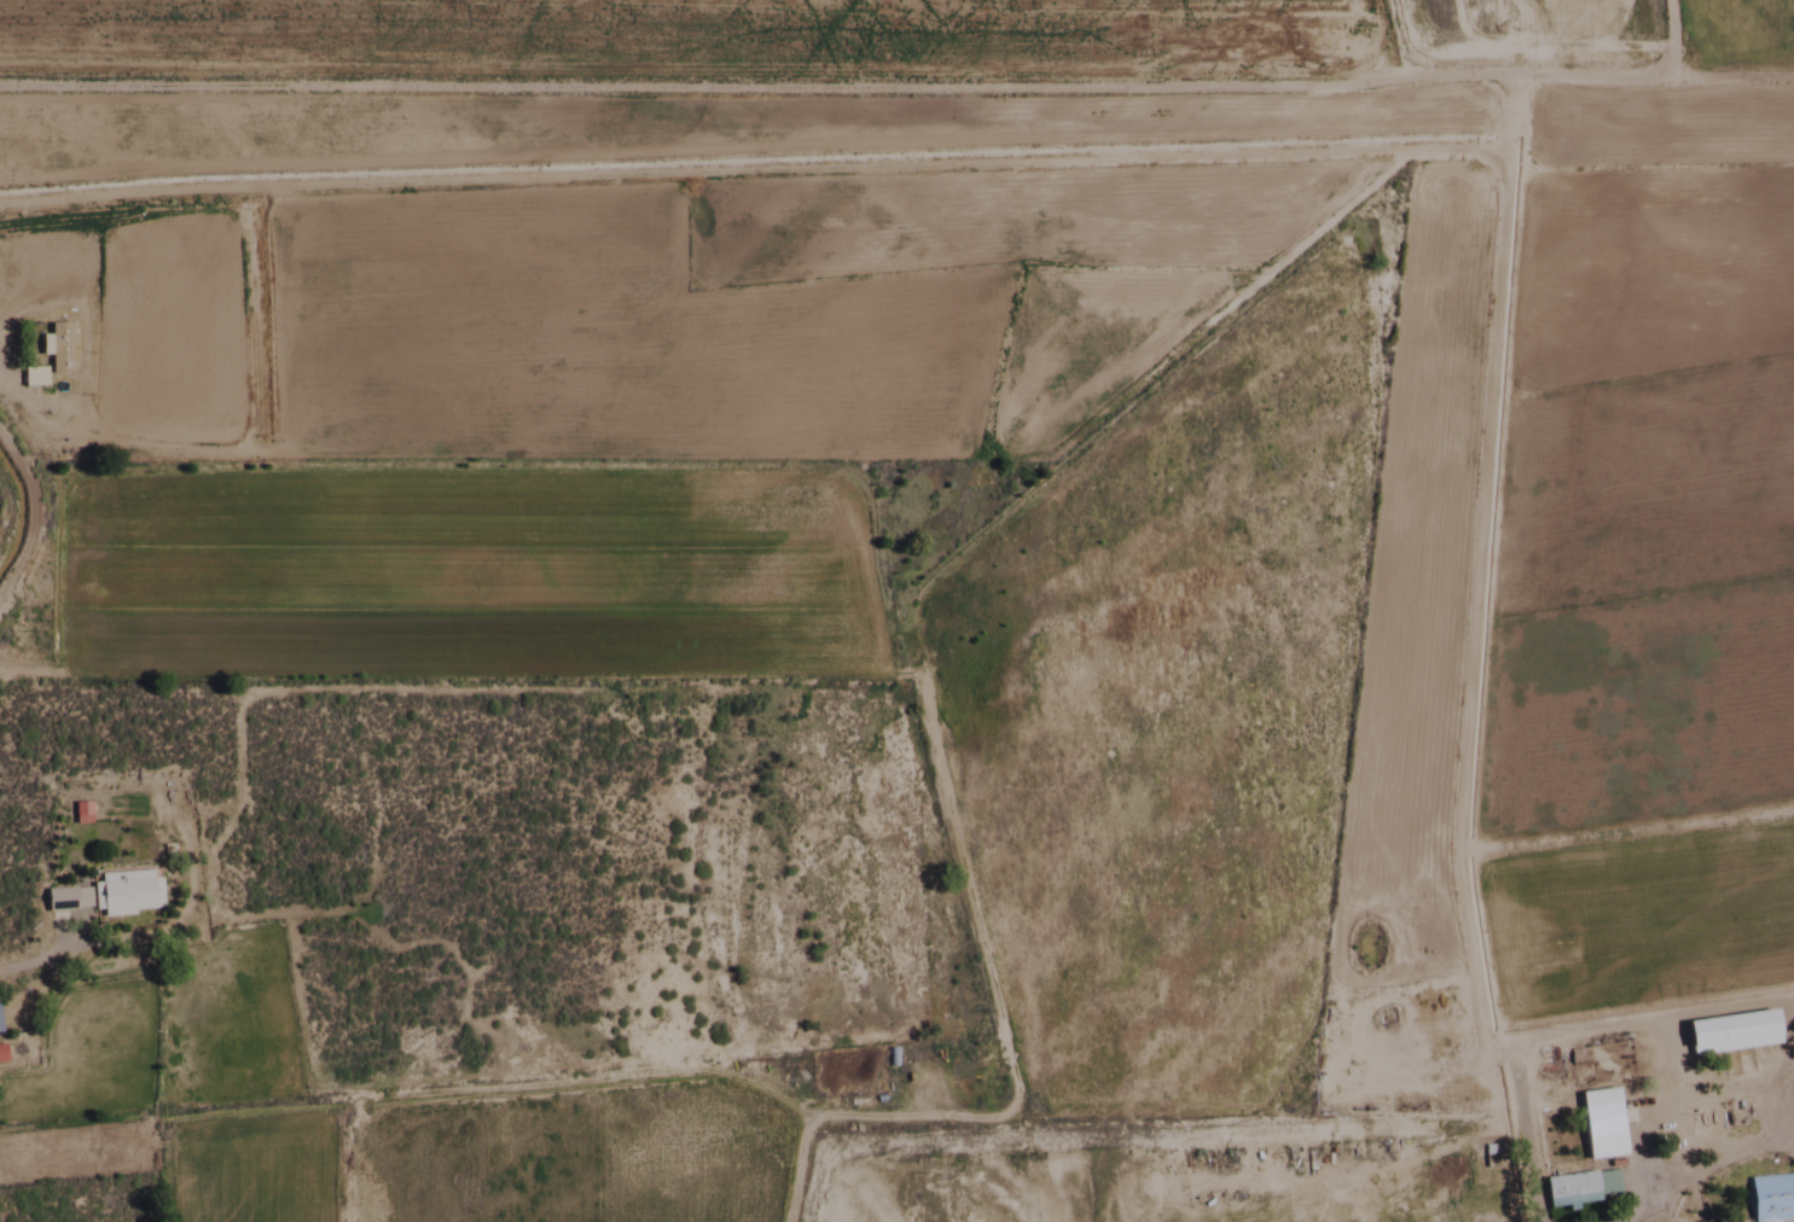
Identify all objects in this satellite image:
road: (896, 85)
road: (1357, 155)
building: (58, 351)
road: (25, 517)
building: (79, 815)
road: (1622, 834)
building: (106, 896)
road: (42, 965)
building: (1728, 1034)
building: (889, 1059)
building: (1598, 1125)
building: (1568, 1192)
building: (1770, 1199)

